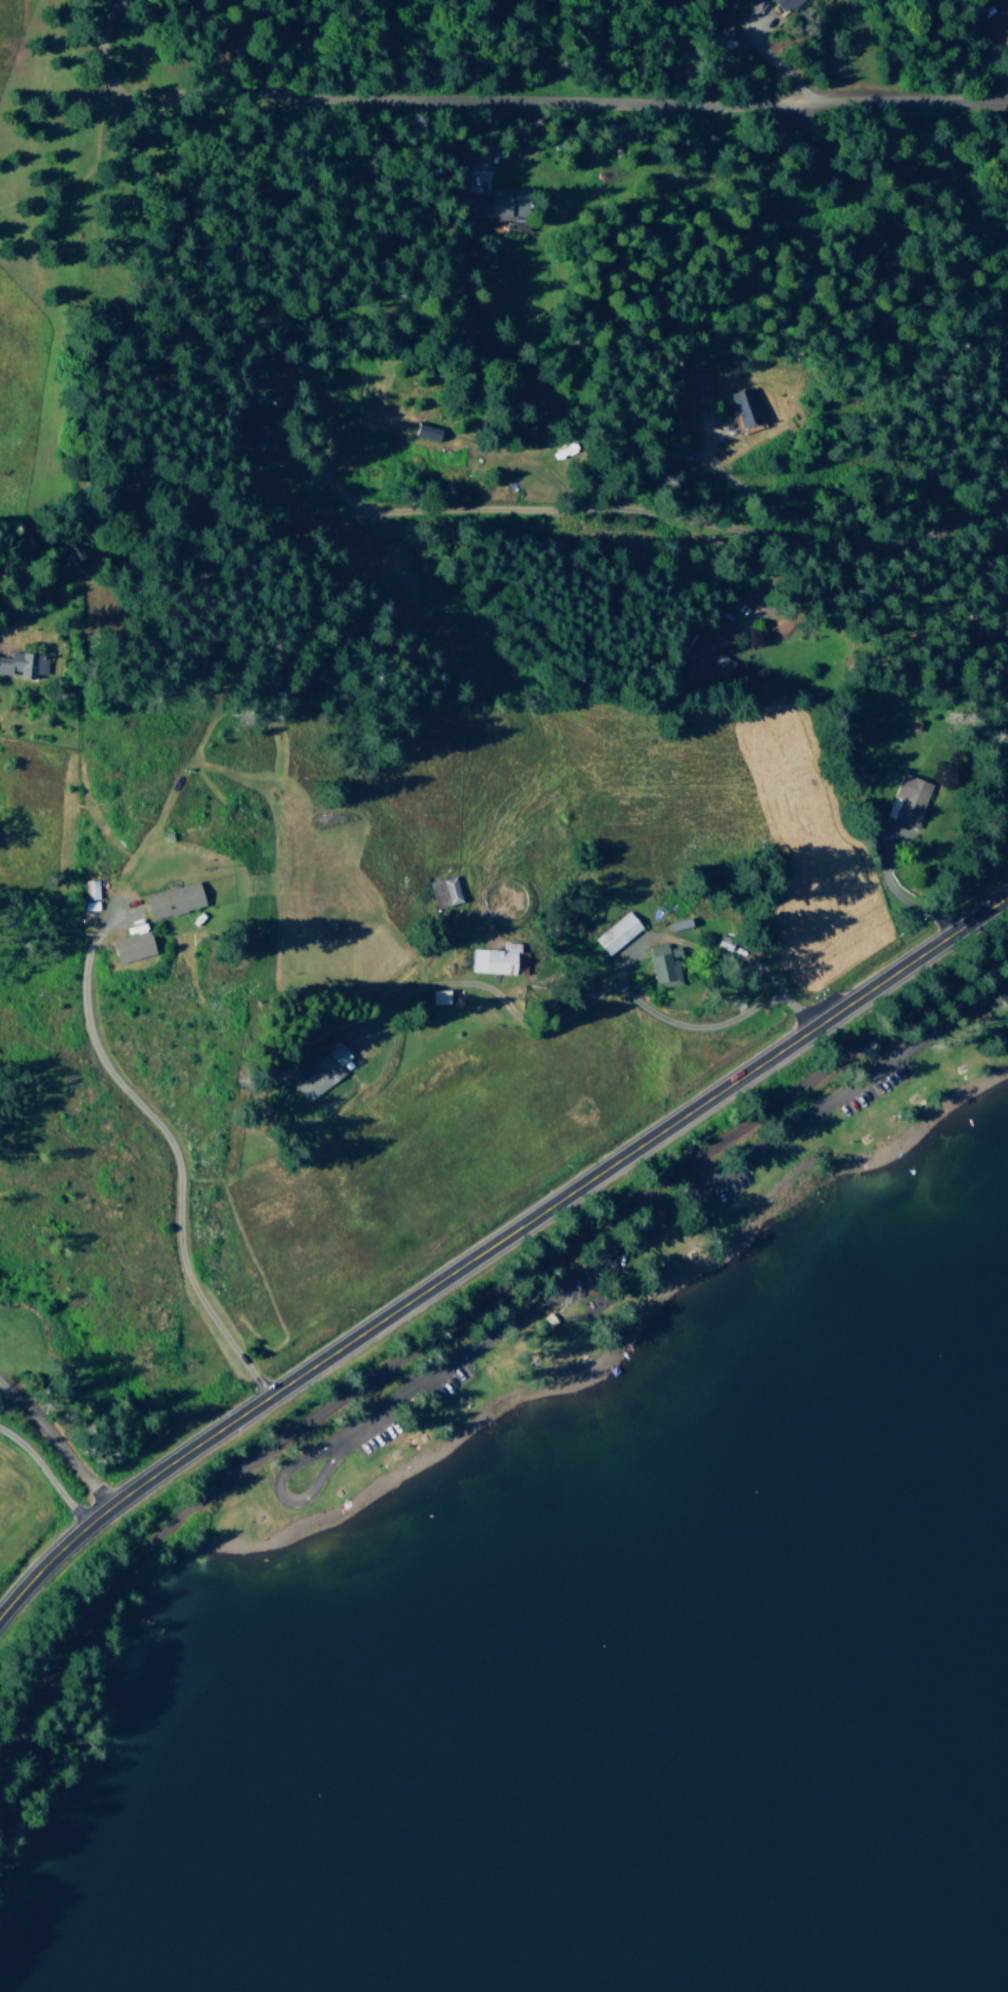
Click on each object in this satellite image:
building: (784, 4)
road: (892, 97)
building: (488, 203)
building: (699, 384)
building: (739, 407)
building: (243, 425)
building: (420, 431)
road: (496, 514)
building: (700, 657)
building: (23, 665)
building: (905, 799)
building: (443, 891)
building: (89, 894)
building: (169, 899)
building: (614, 933)
road: (696, 942)
building: (127, 946)
building: (496, 959)
building: (659, 964)
road: (586, 998)
building: (318, 1072)
road: (495, 1237)
road: (454, 1336)
road: (43, 1472)

